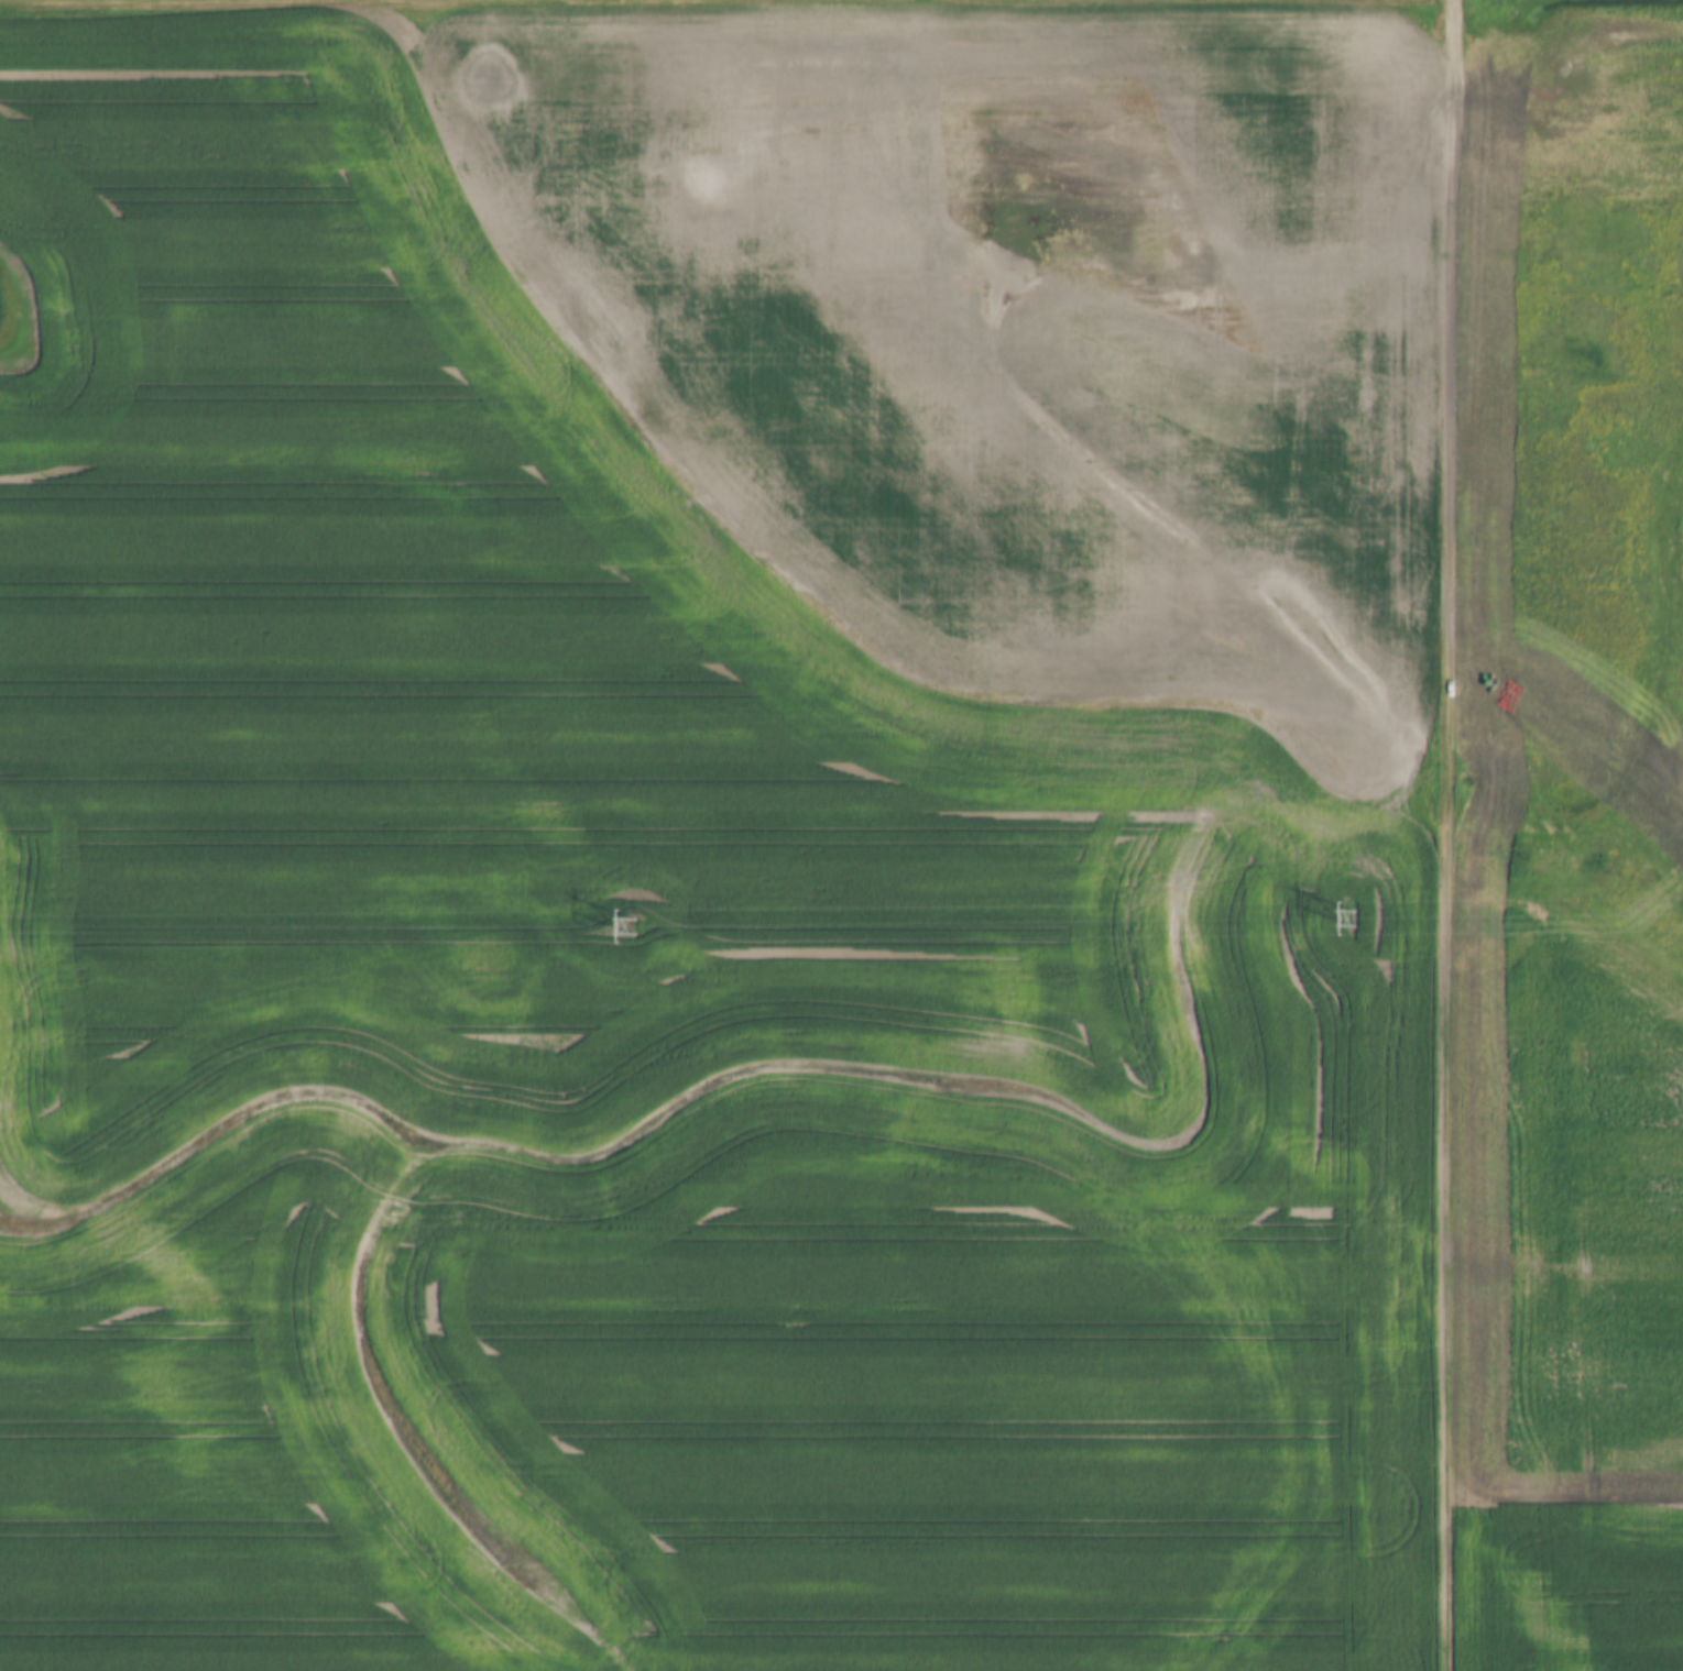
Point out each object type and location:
road: (1450, 835)
power tower: (1349, 921)
power tower: (632, 926)

